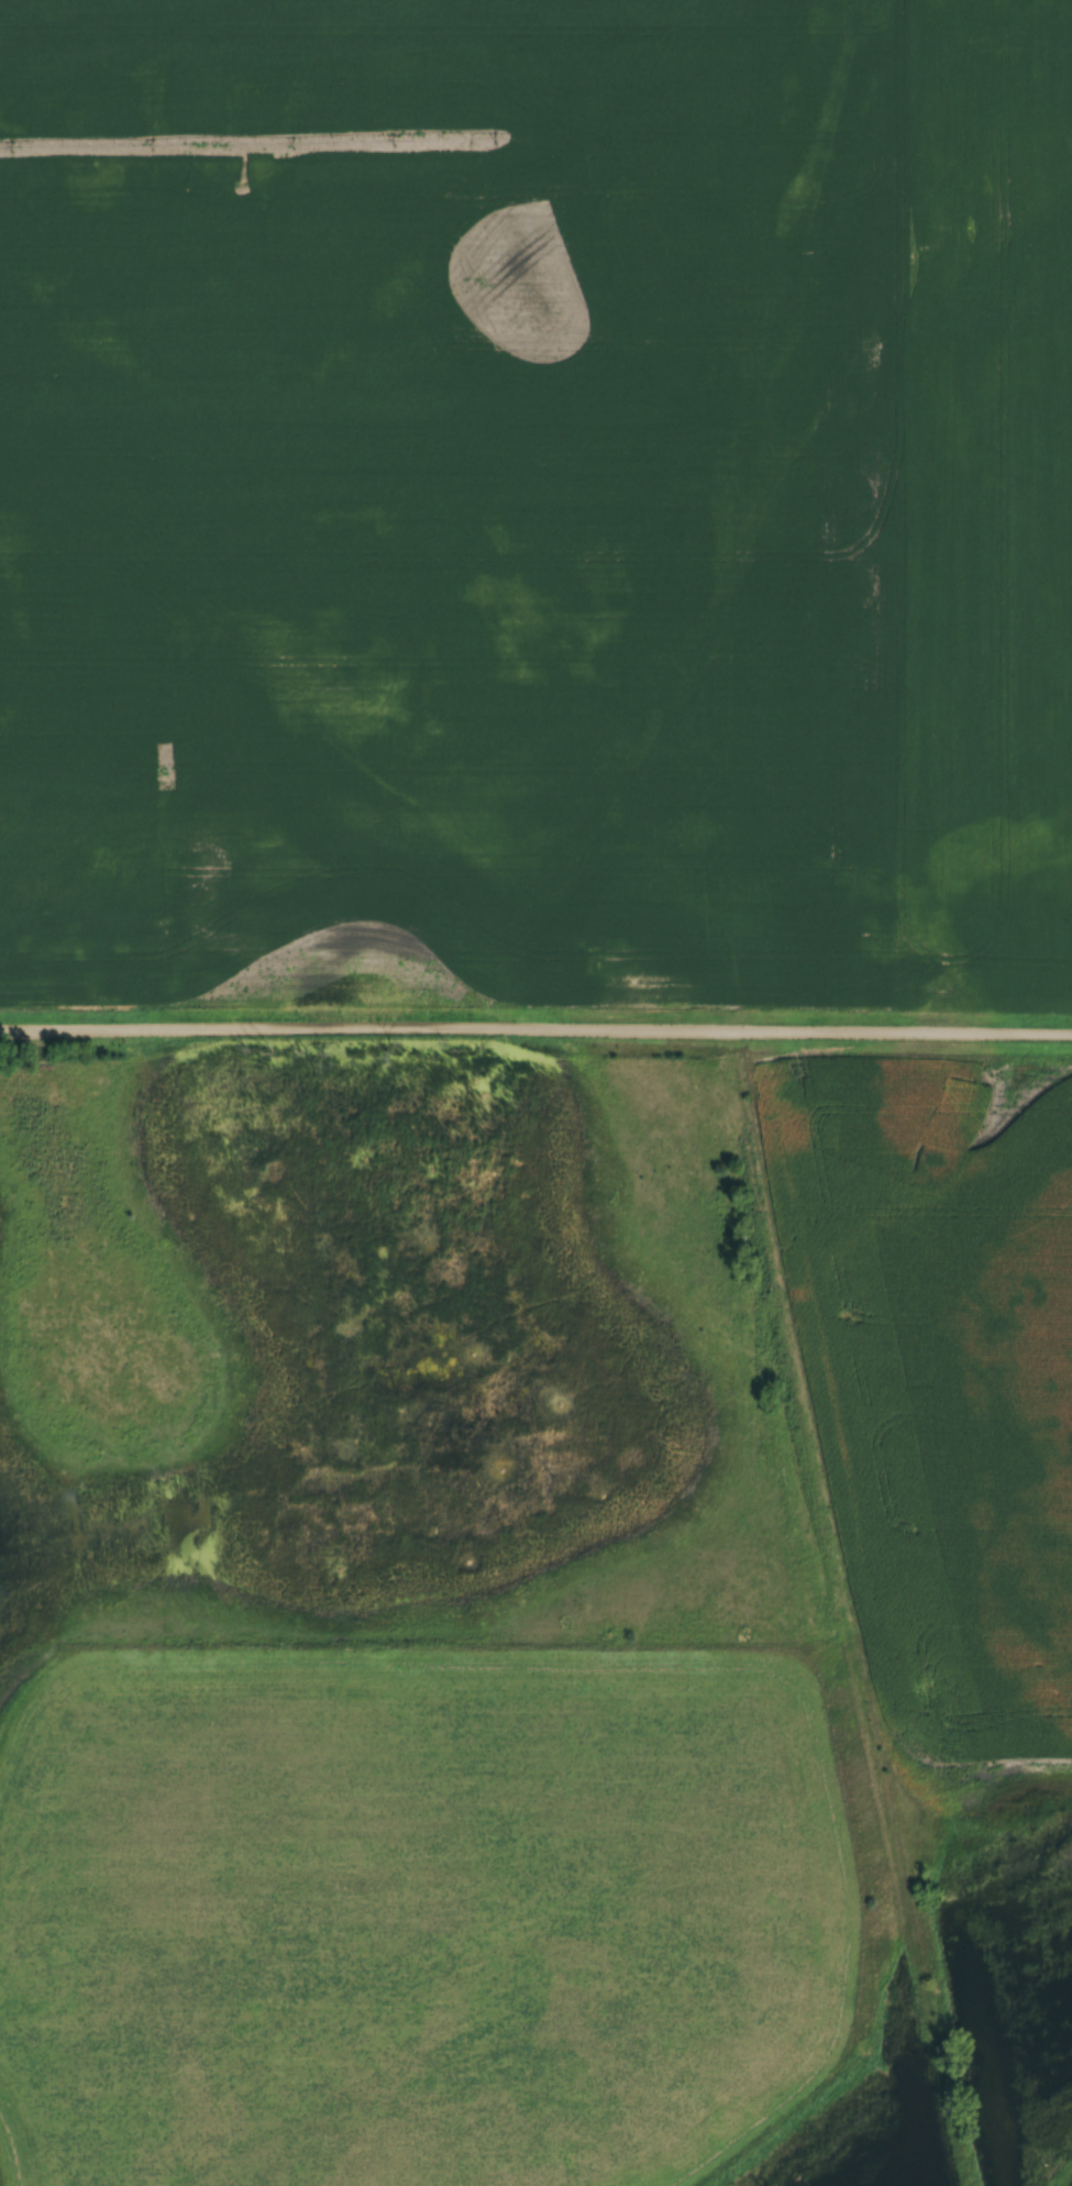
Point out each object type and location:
road: (809, 1033)
road: (95, 1034)

